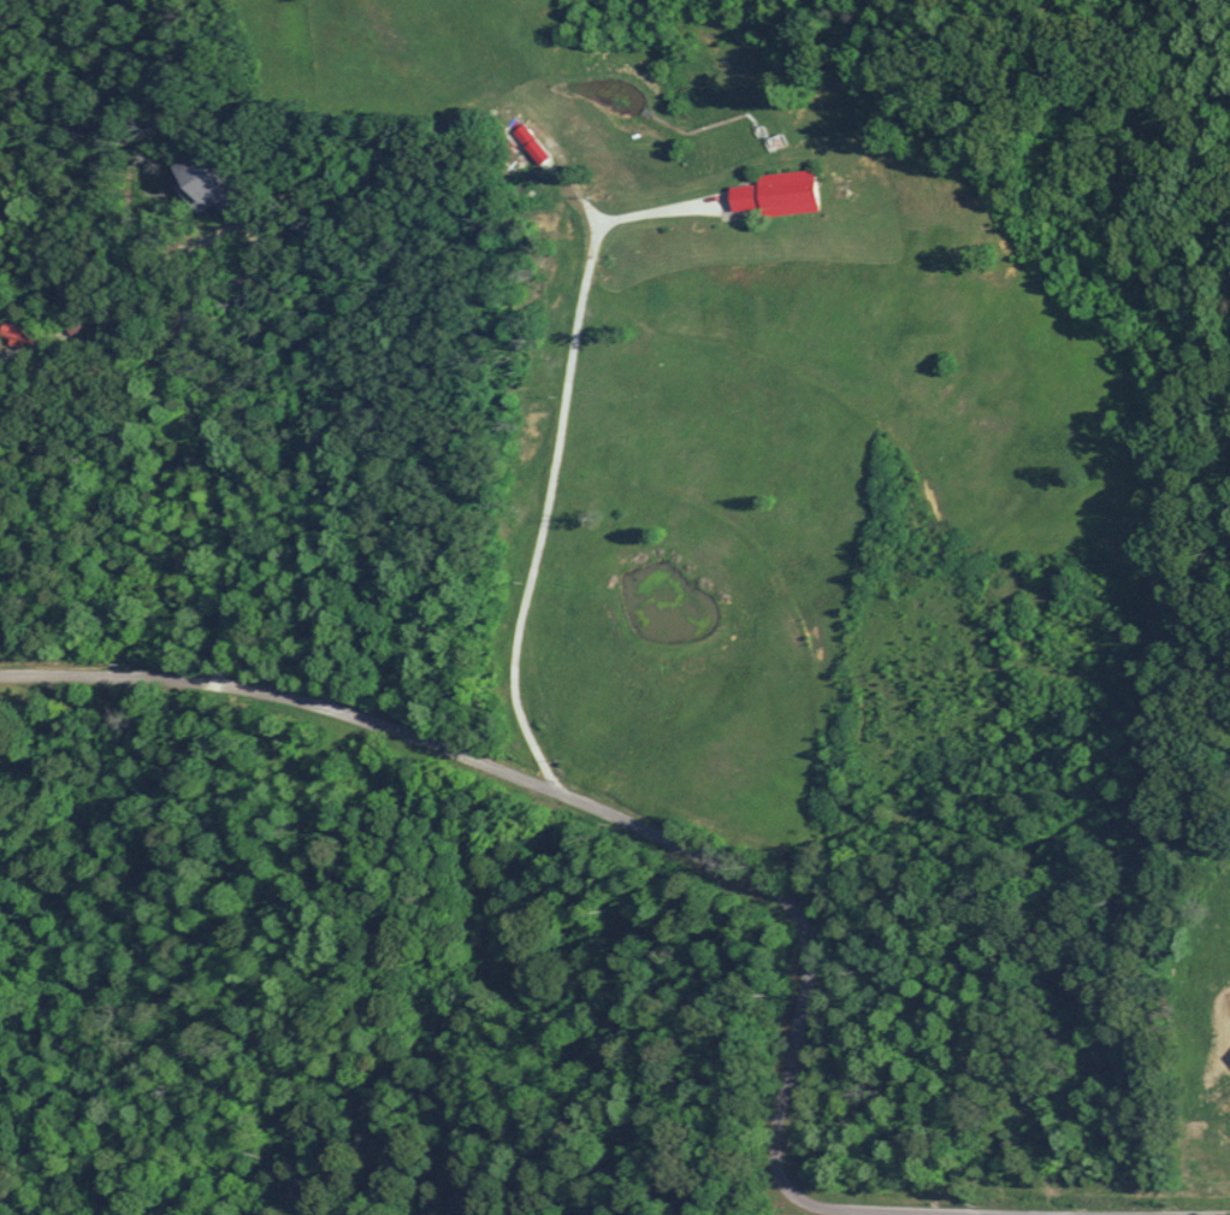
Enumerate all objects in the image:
building: (519, 136)
building: (200, 184)
building: (773, 193)
building: (22, 334)
road: (554, 452)
road: (647, 830)

